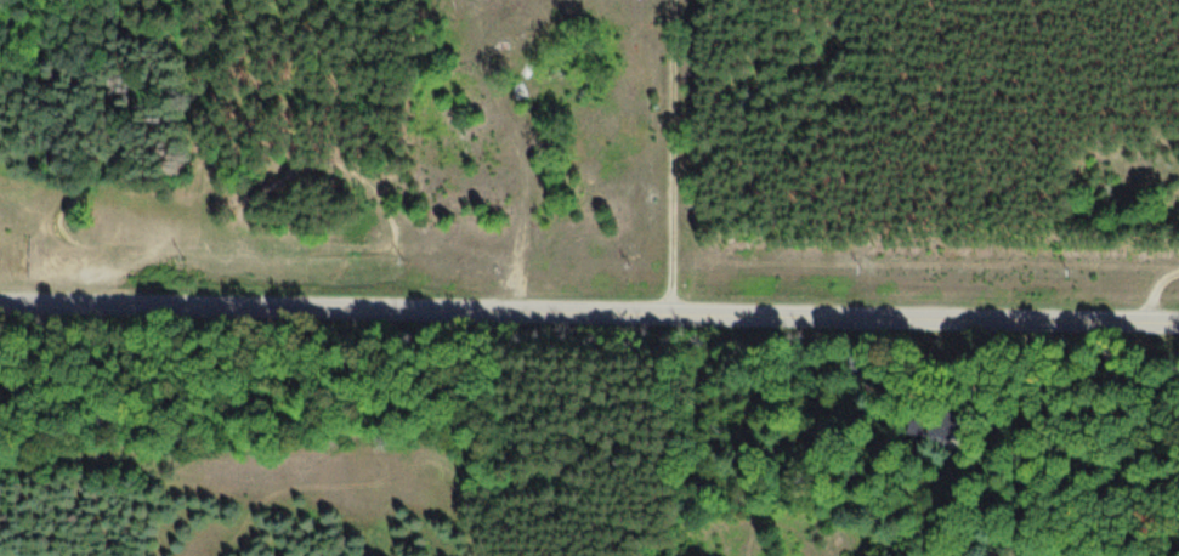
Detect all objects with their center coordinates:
building: (459, 7)
road: (693, 159)
road: (1163, 302)
road: (589, 316)
building: (933, 427)

